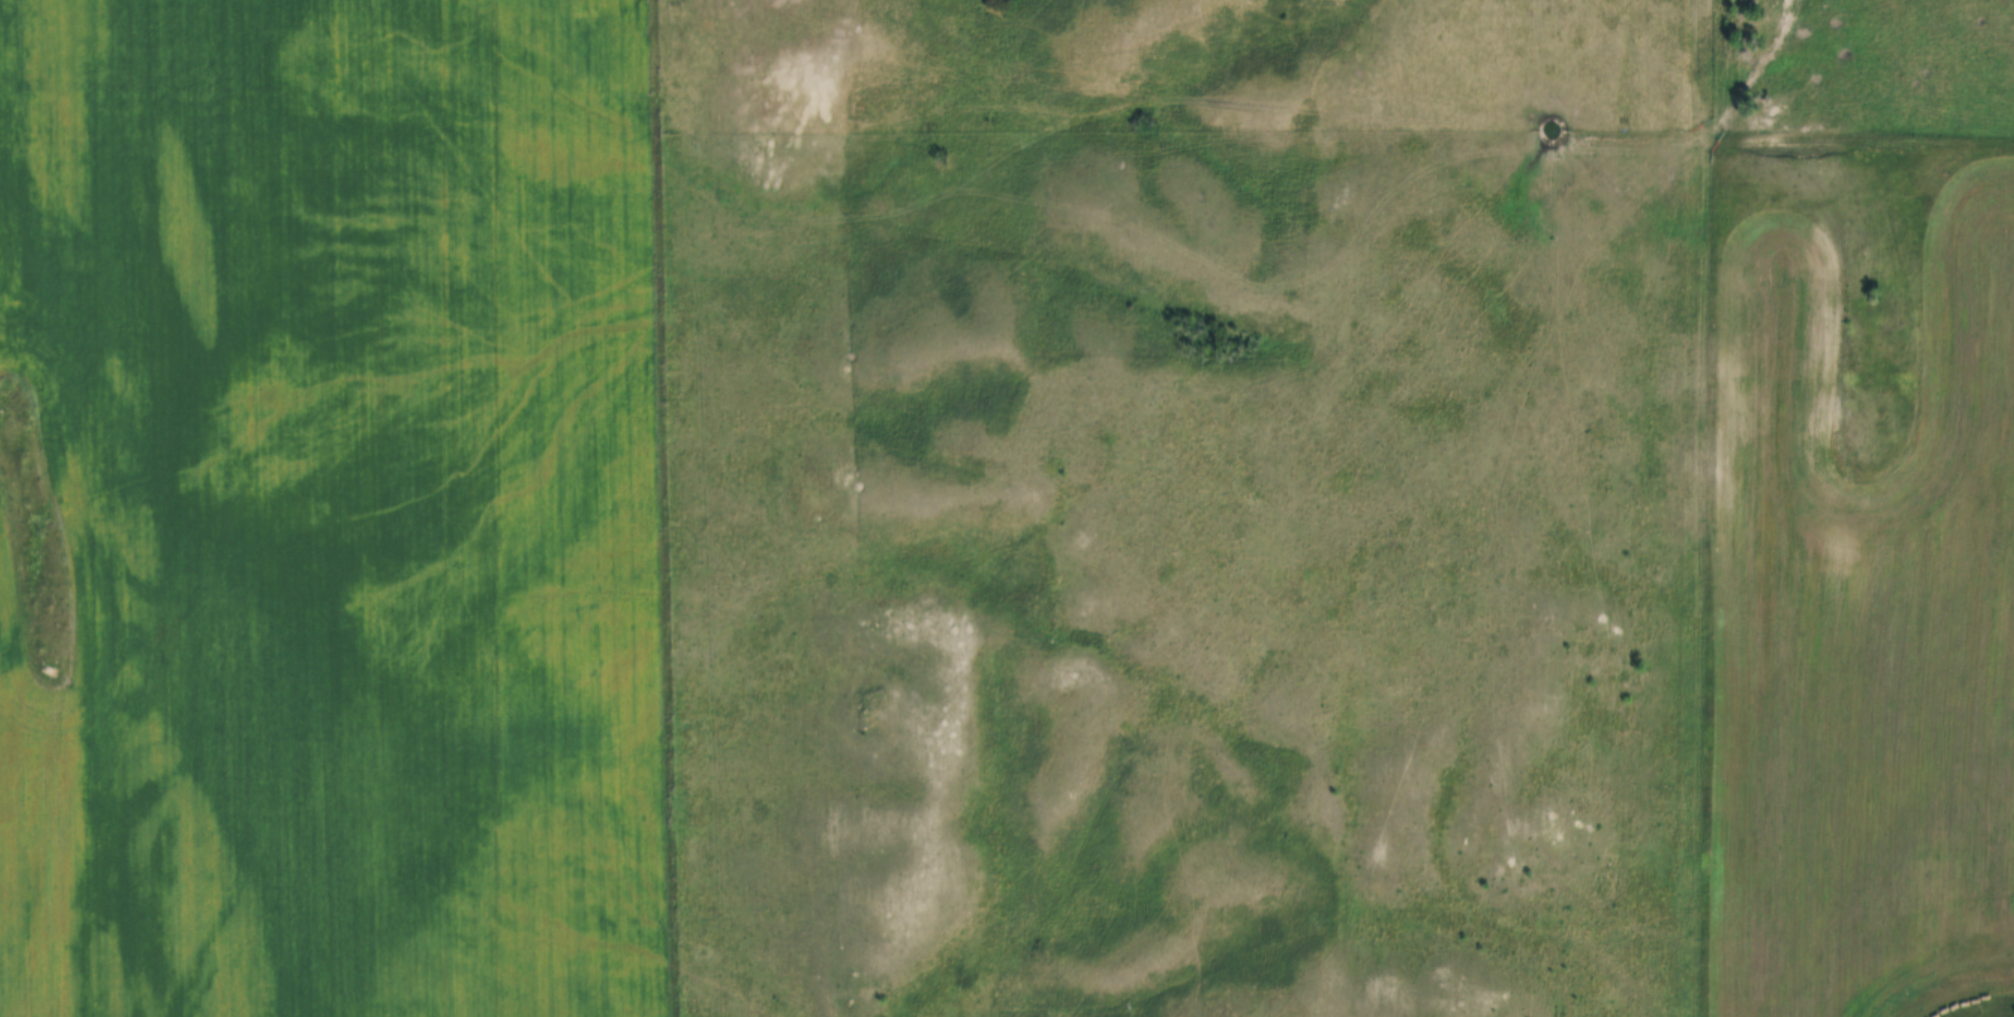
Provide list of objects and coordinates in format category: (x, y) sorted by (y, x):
road: (1862, 141)
road: (1703, 508)

